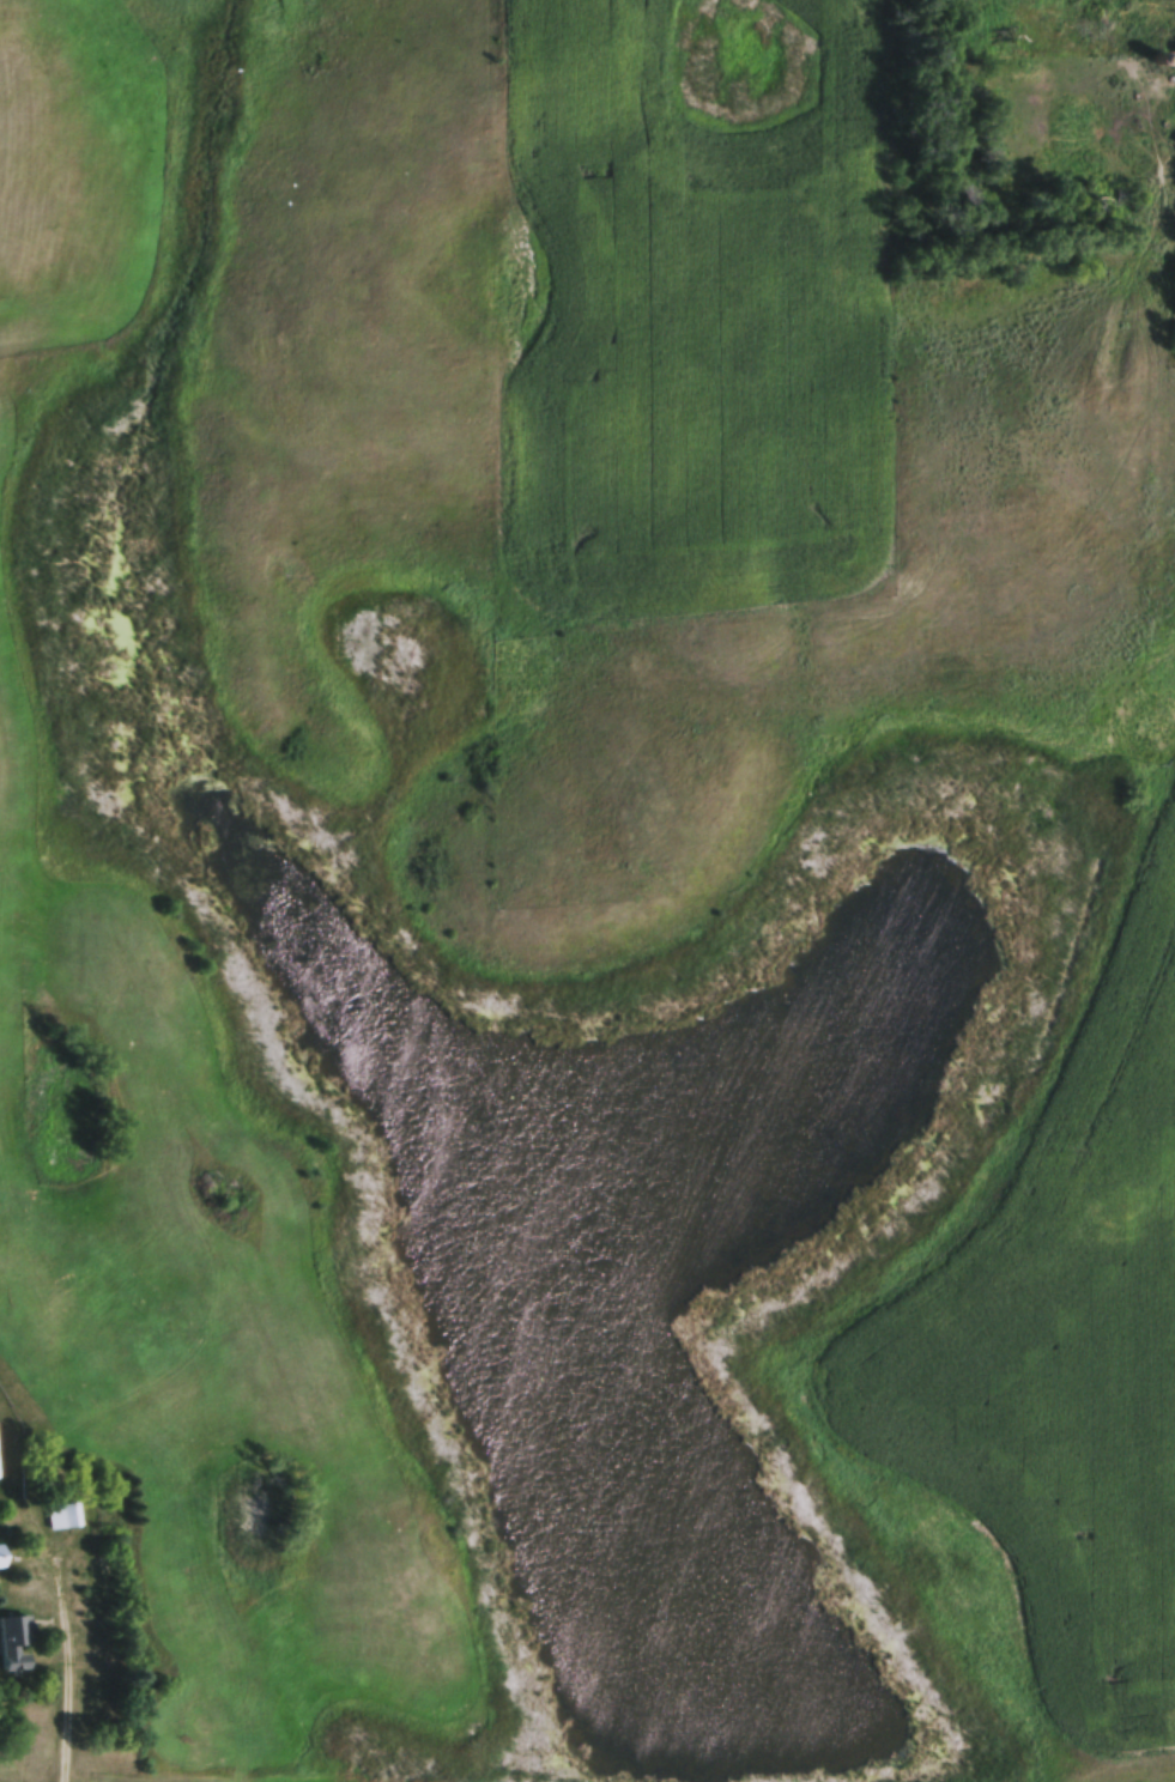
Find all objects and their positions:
building: (1174, 66)
river: (522, 1225)
building: (61, 1516)
building: (1, 1559)
road: (68, 1648)

